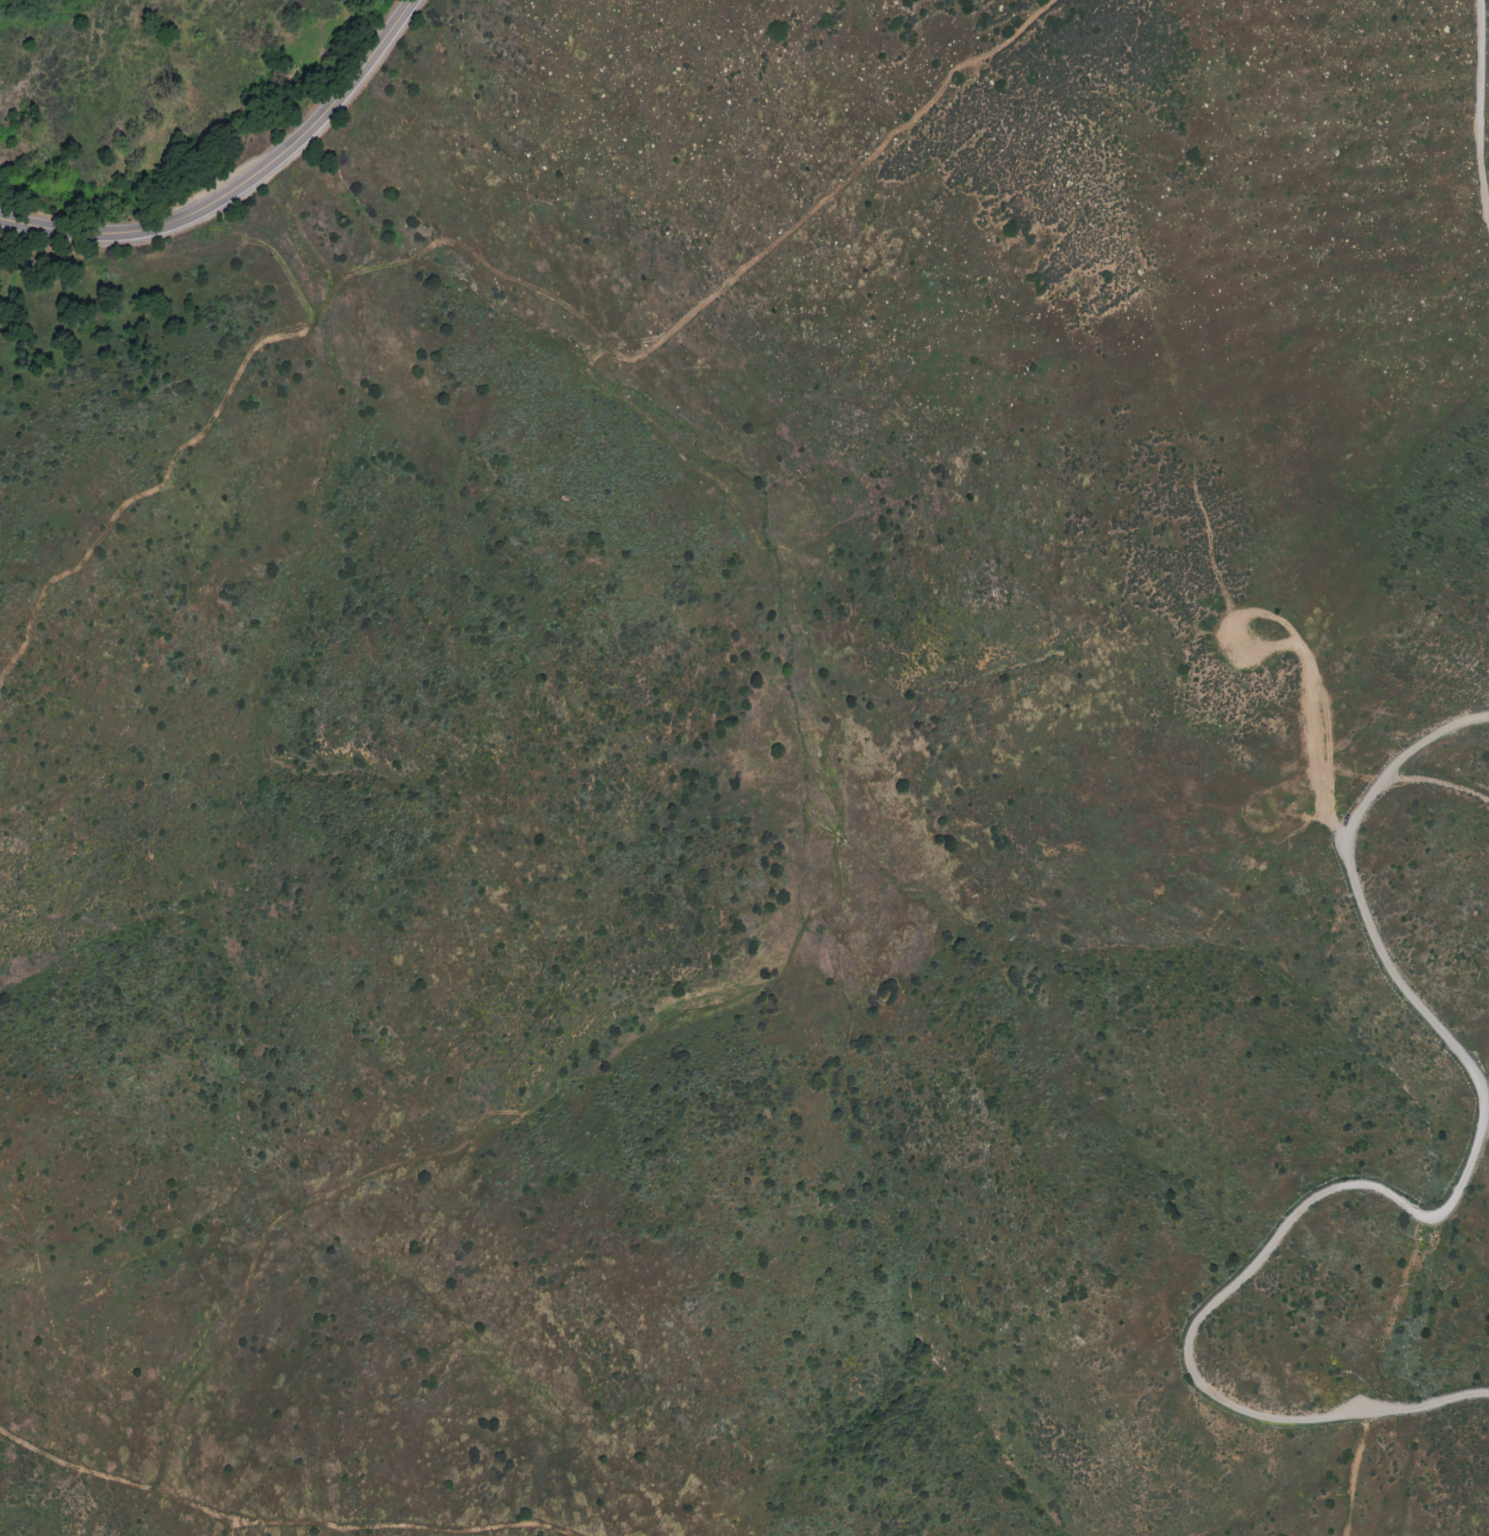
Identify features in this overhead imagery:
road: (1481, 102)
road: (242, 190)
road: (1305, 673)
road: (1437, 781)
road: (1421, 1223)
parking lot: (1365, 1400)
road: (1365, 1484)
road: (206, 1514)
road: (525, 1533)

